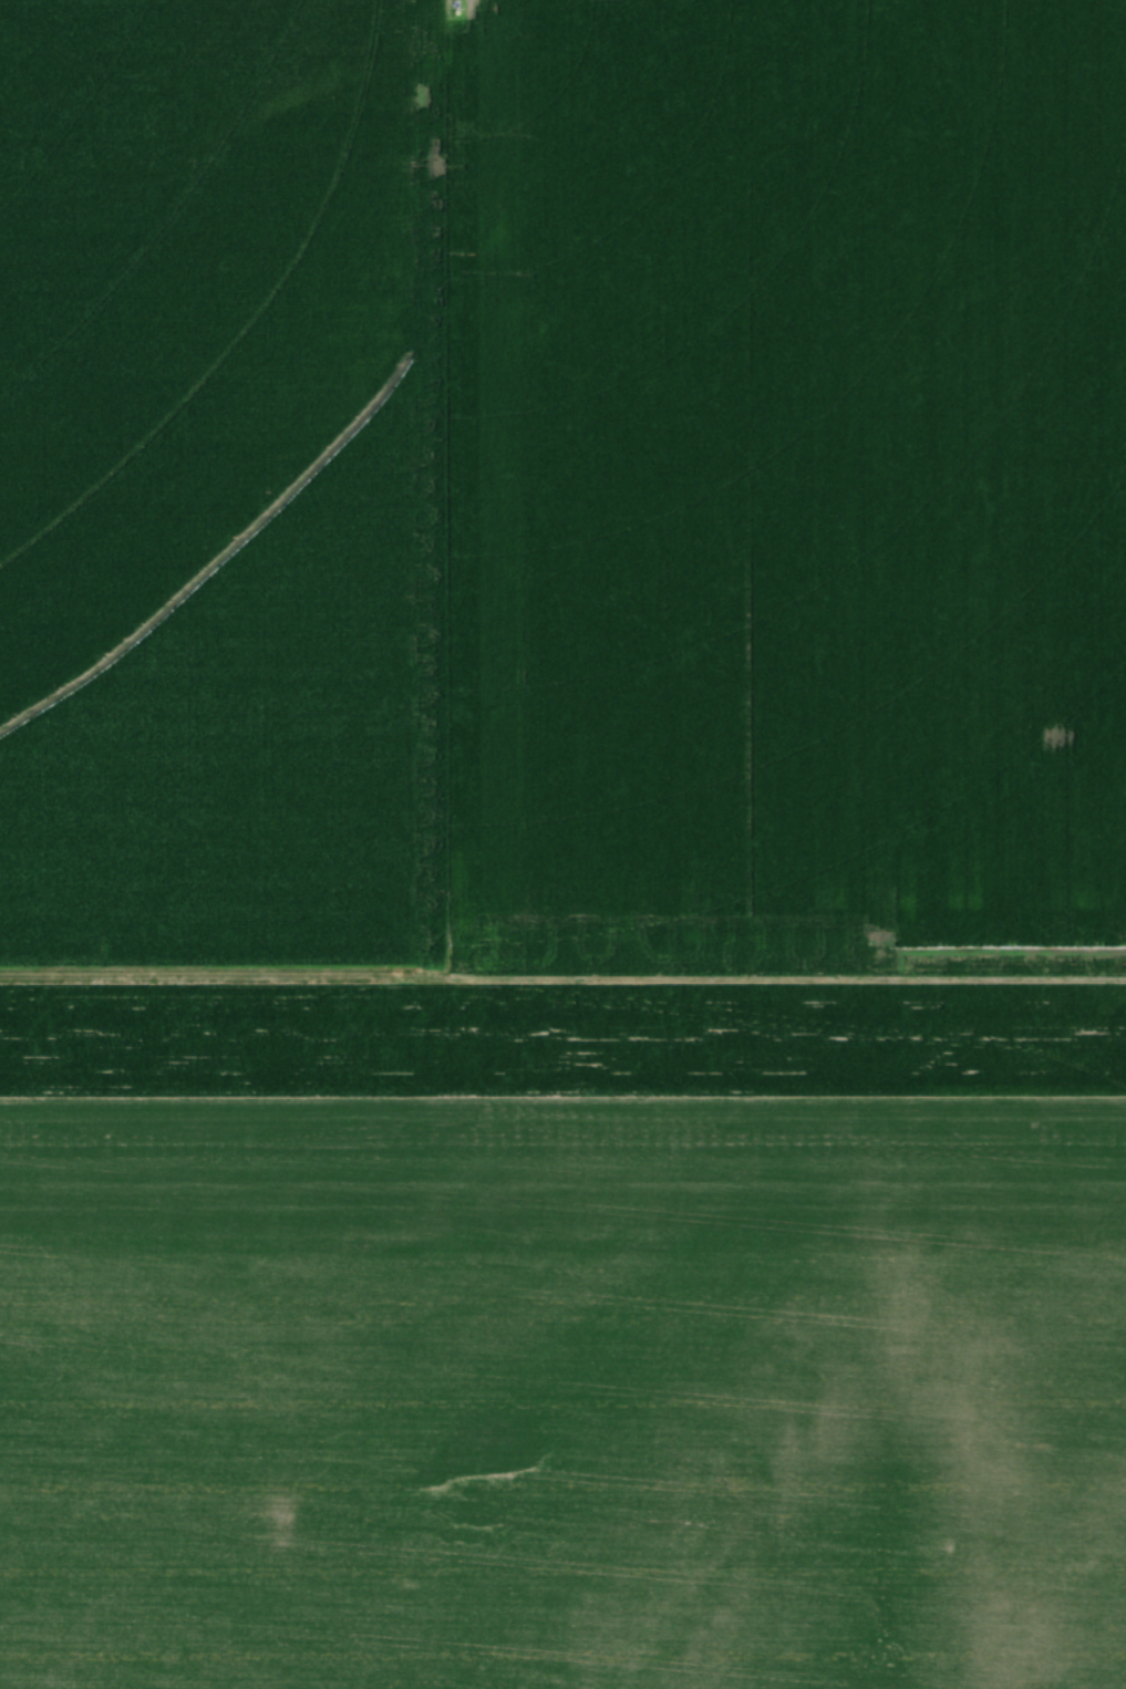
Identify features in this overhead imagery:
crop: (785, 479)

